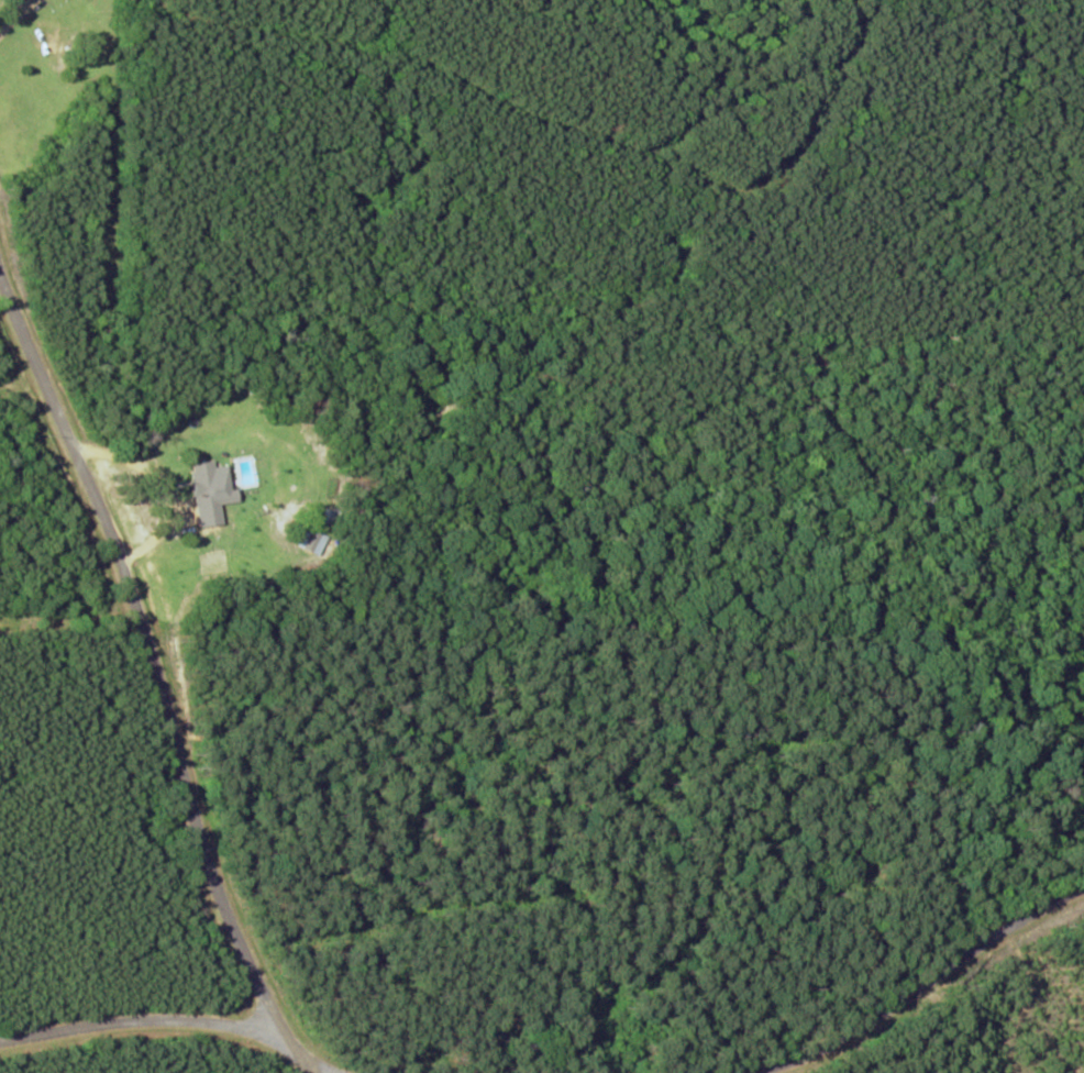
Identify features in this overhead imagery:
building: (213, 485)
road: (140, 641)
road: (969, 1016)

